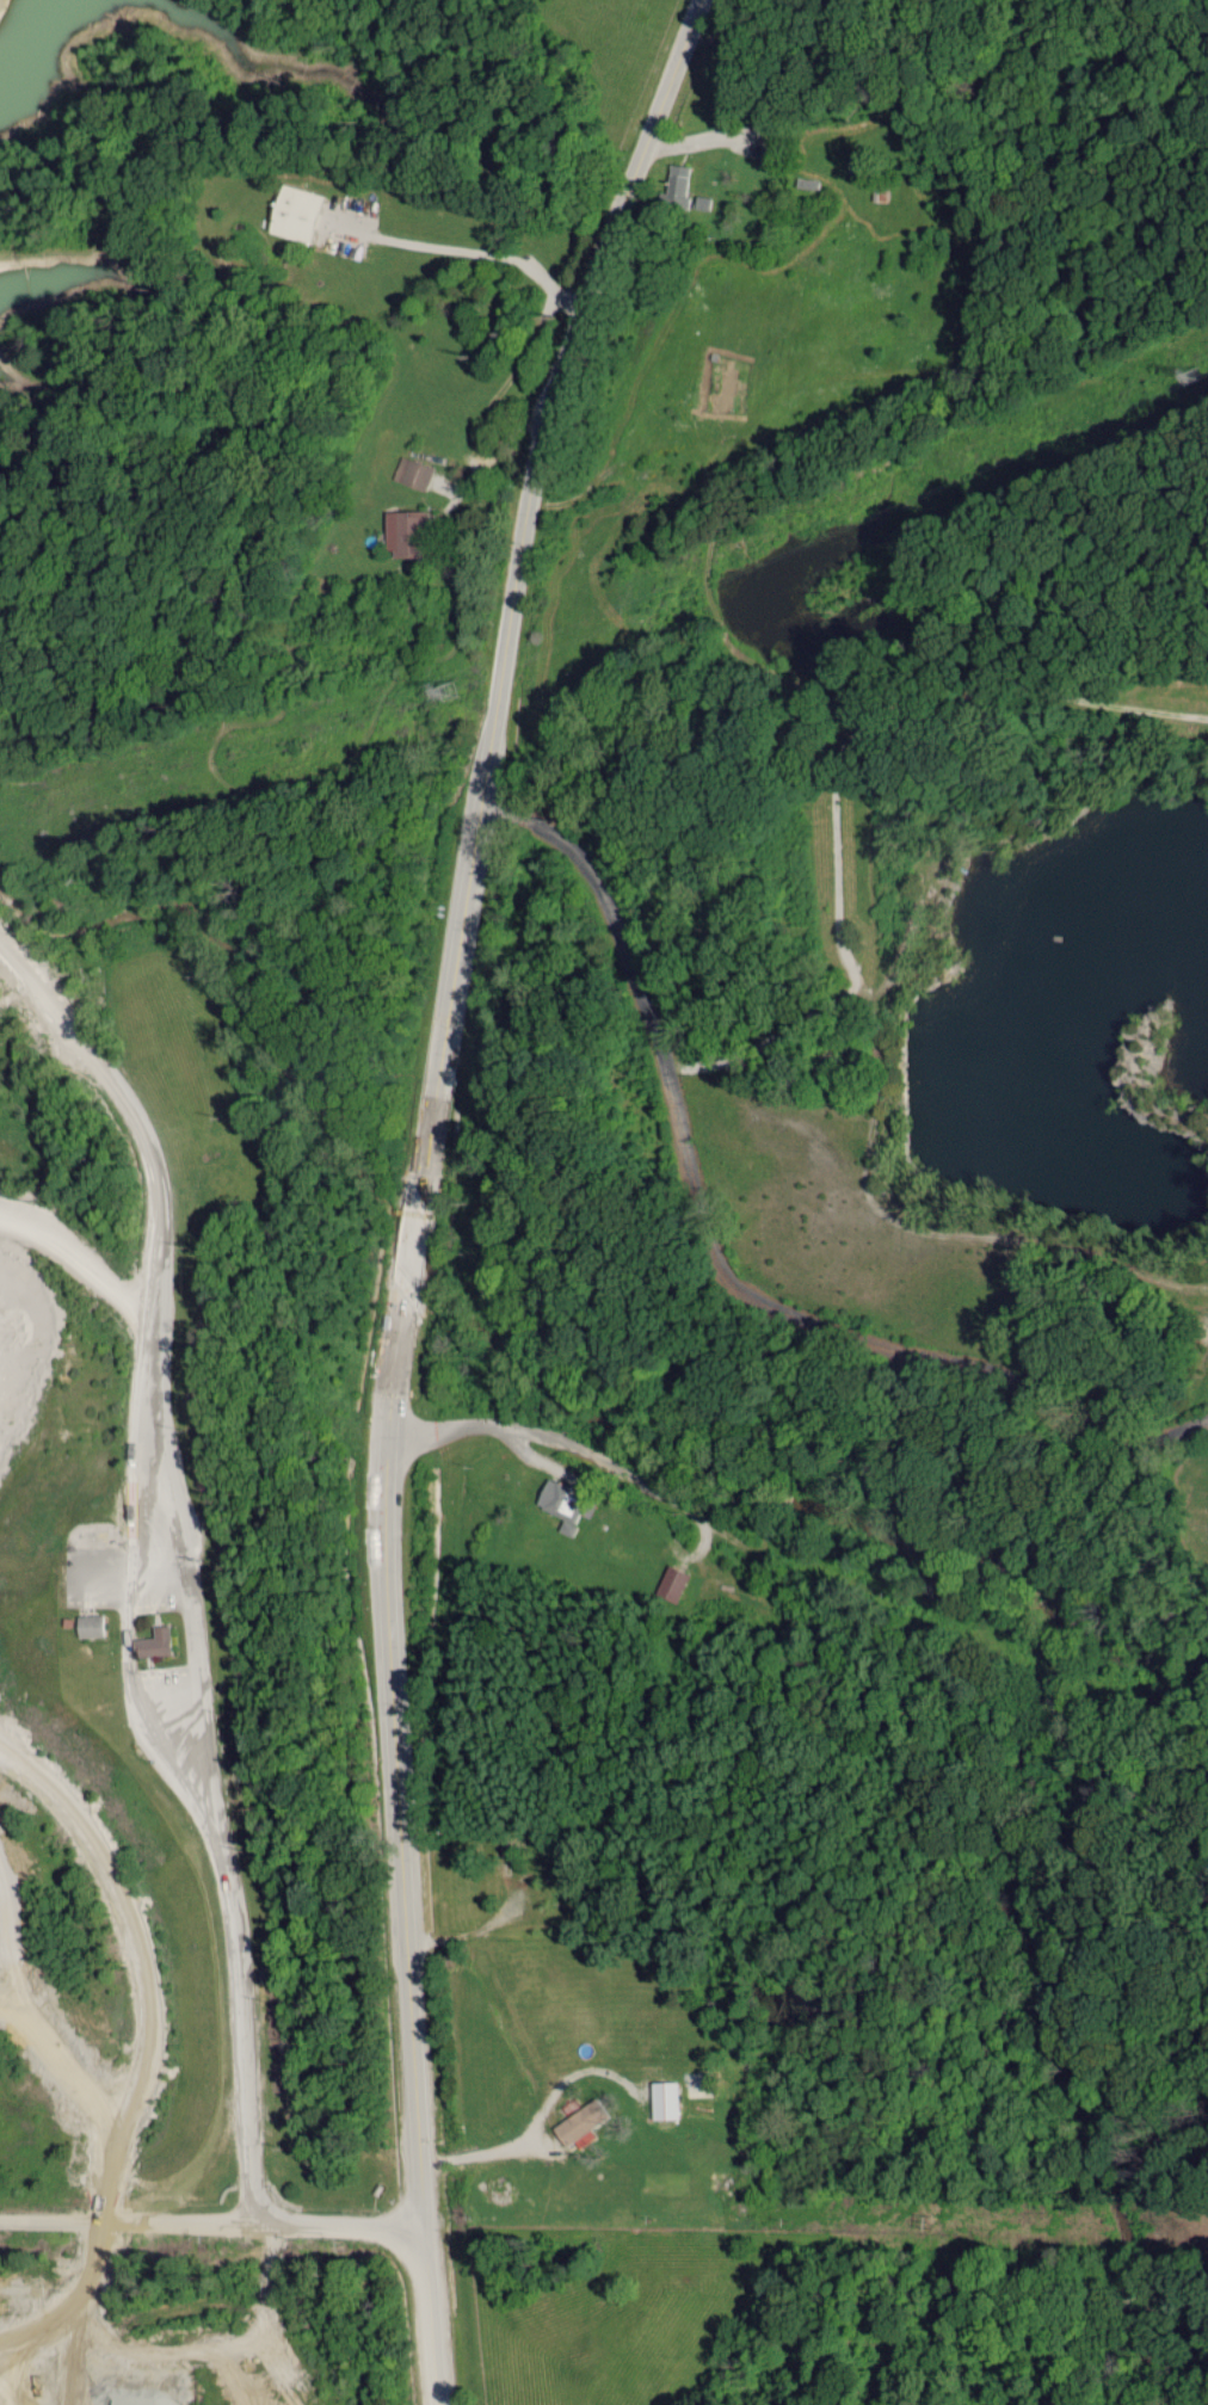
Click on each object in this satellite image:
road: (873, 90)
building: (680, 181)
building: (302, 214)
building: (414, 471)
building: (408, 532)
road: (752, 1091)
road: (423, 1186)
road: (723, 1251)
building: (568, 1504)
road: (820, 1578)
building: (670, 1581)
building: (93, 1624)
building: (159, 1641)
road: (203, 1918)
building: (662, 2098)
building: (583, 2121)
road: (486, 2152)
road: (212, 2224)

